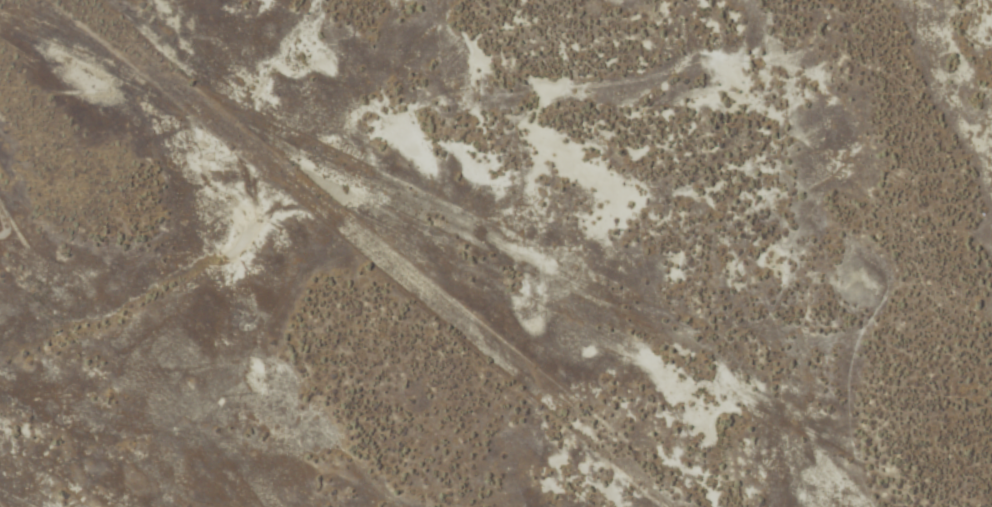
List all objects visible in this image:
road: (734, 197)
crop: (461, 272)

